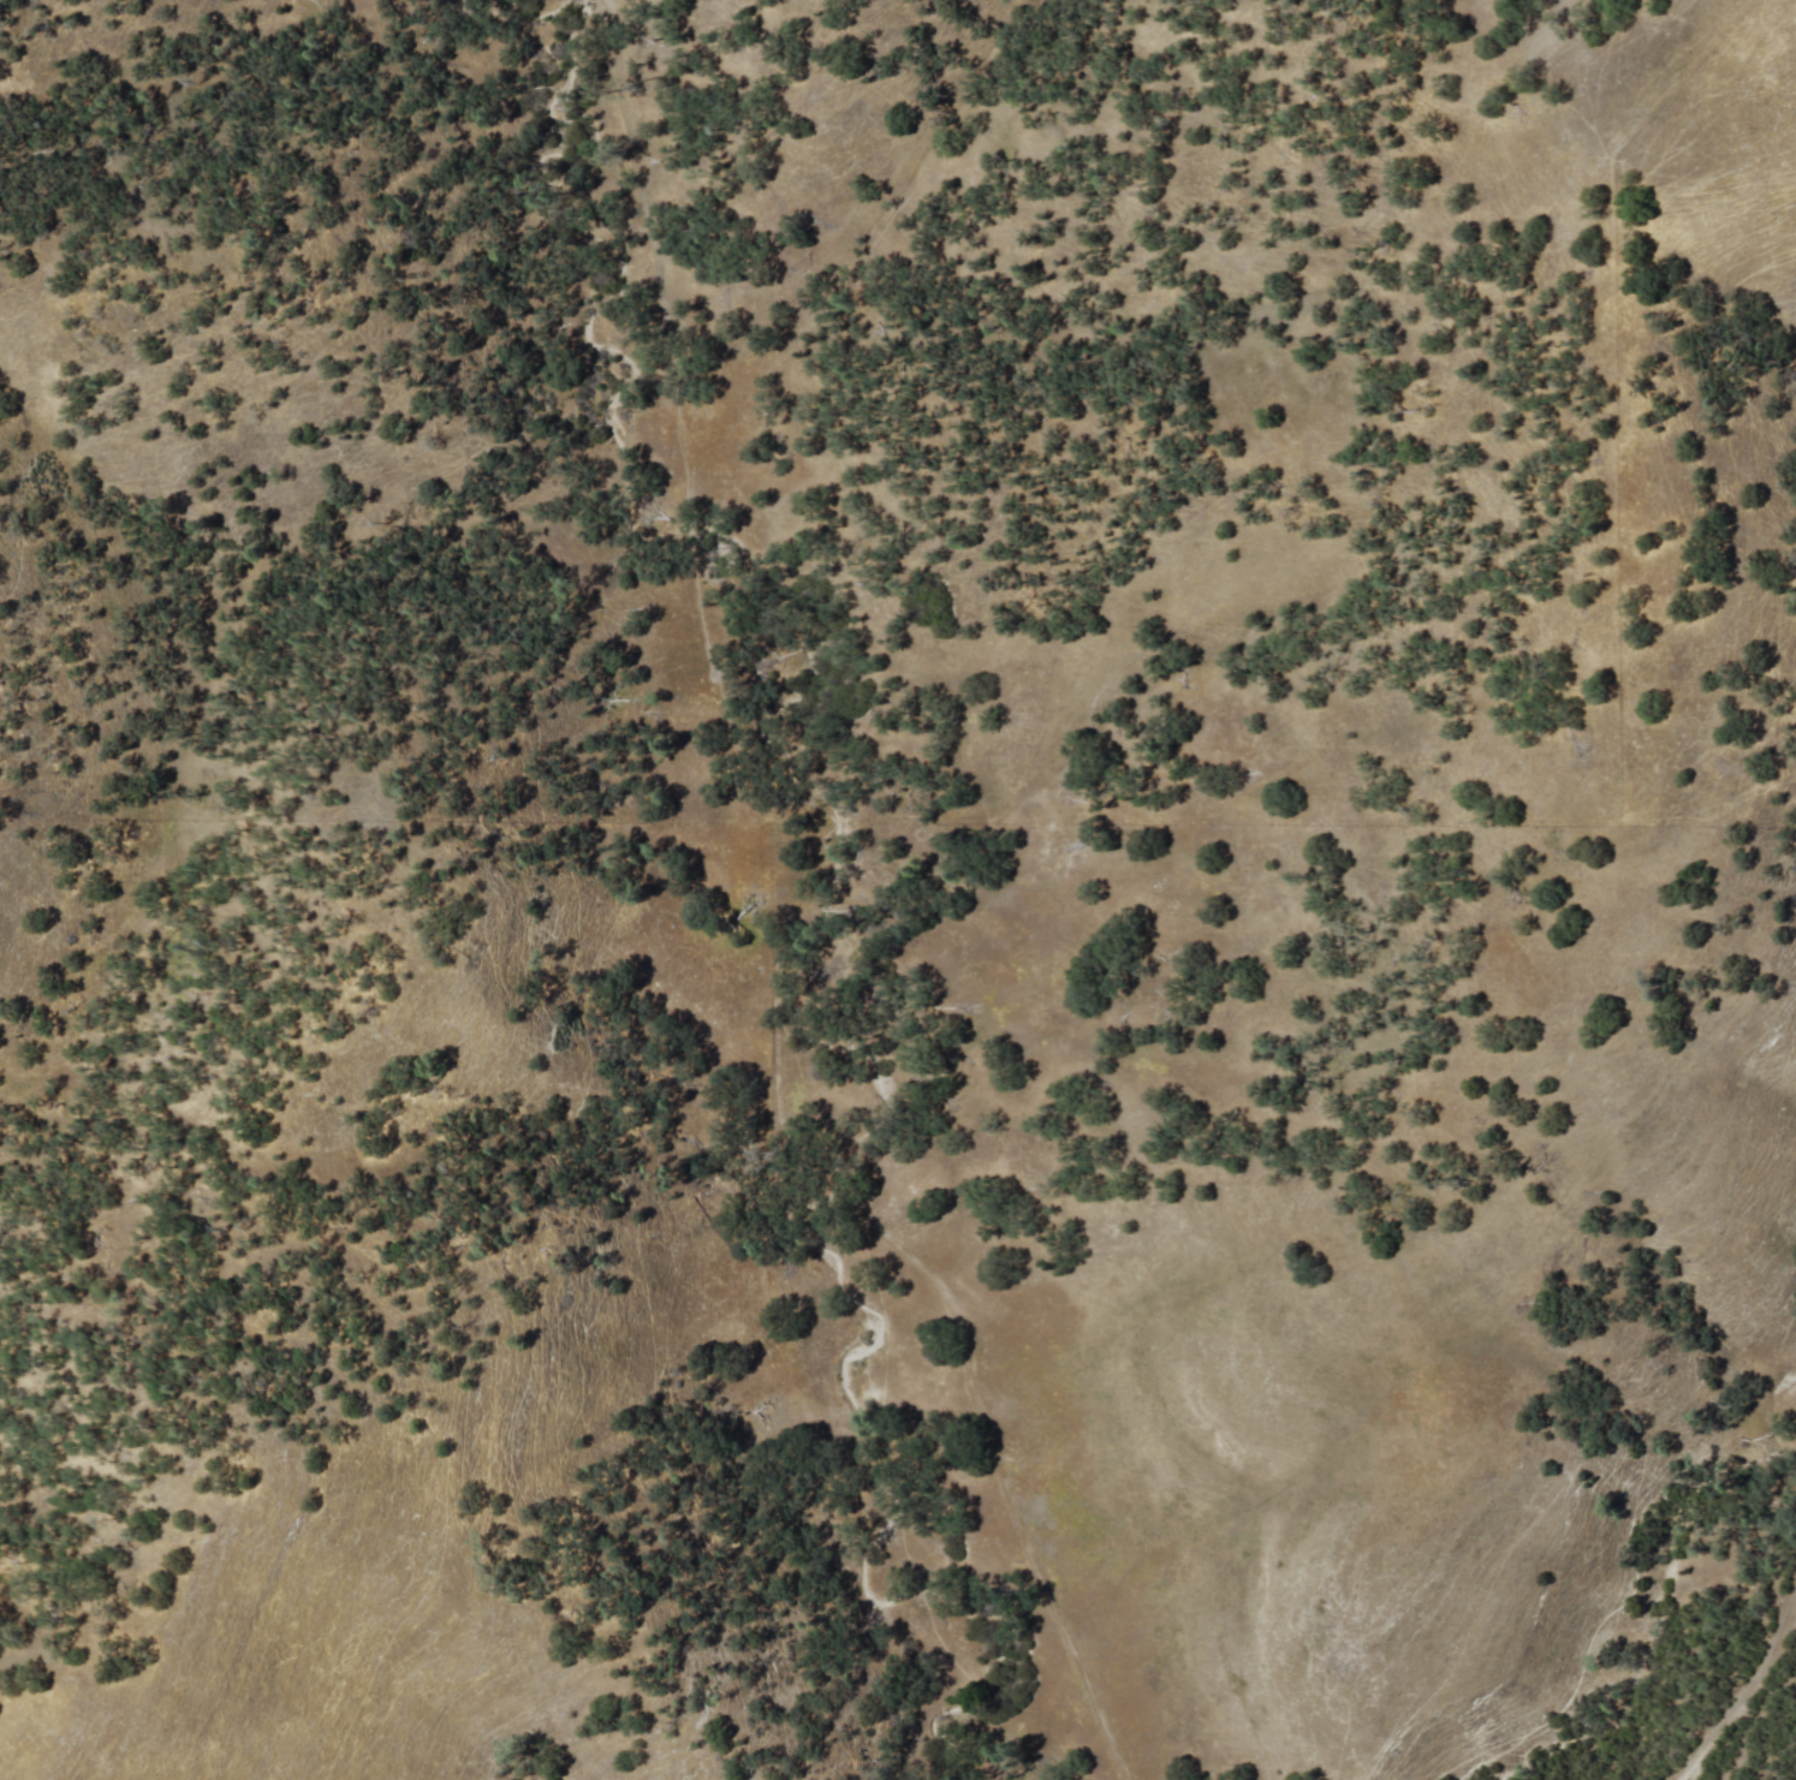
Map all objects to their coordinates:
road: (1742, 1696)

